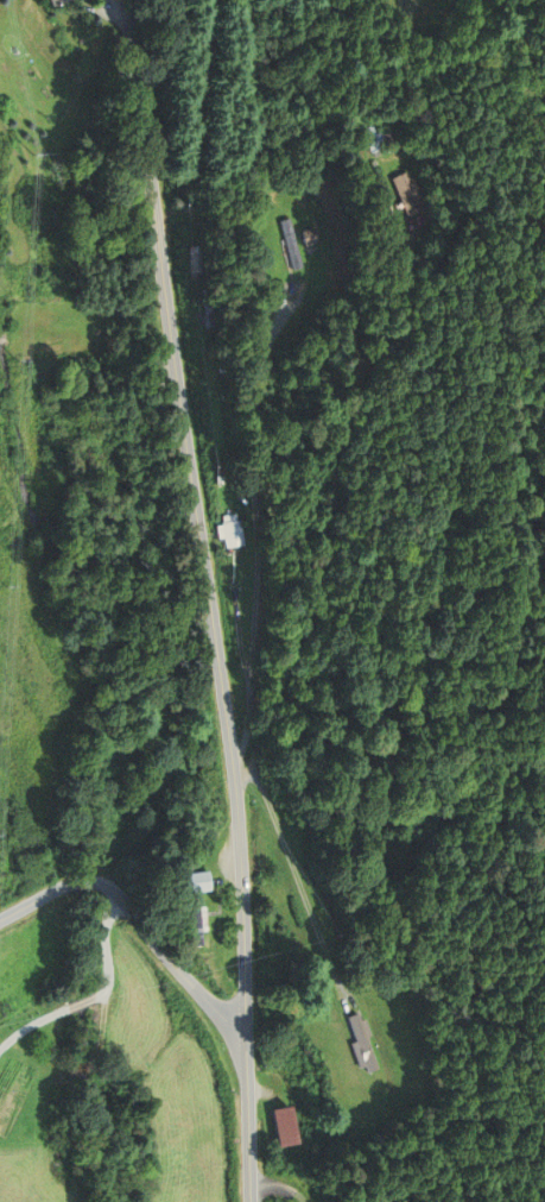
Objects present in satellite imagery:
building: (56, 1)
building: (42, 76)
building: (403, 193)
building: (287, 244)
building: (192, 259)
building: (204, 309)
road: (331, 504)
road: (256, 526)
building: (228, 533)
road: (210, 598)
building: (176, 741)
building: (191, 882)
road: (139, 917)
building: (189, 923)
road: (106, 946)
road: (81, 1000)
road: (31, 1024)
building: (359, 1043)
building: (281, 1126)
road: (280, 1187)

